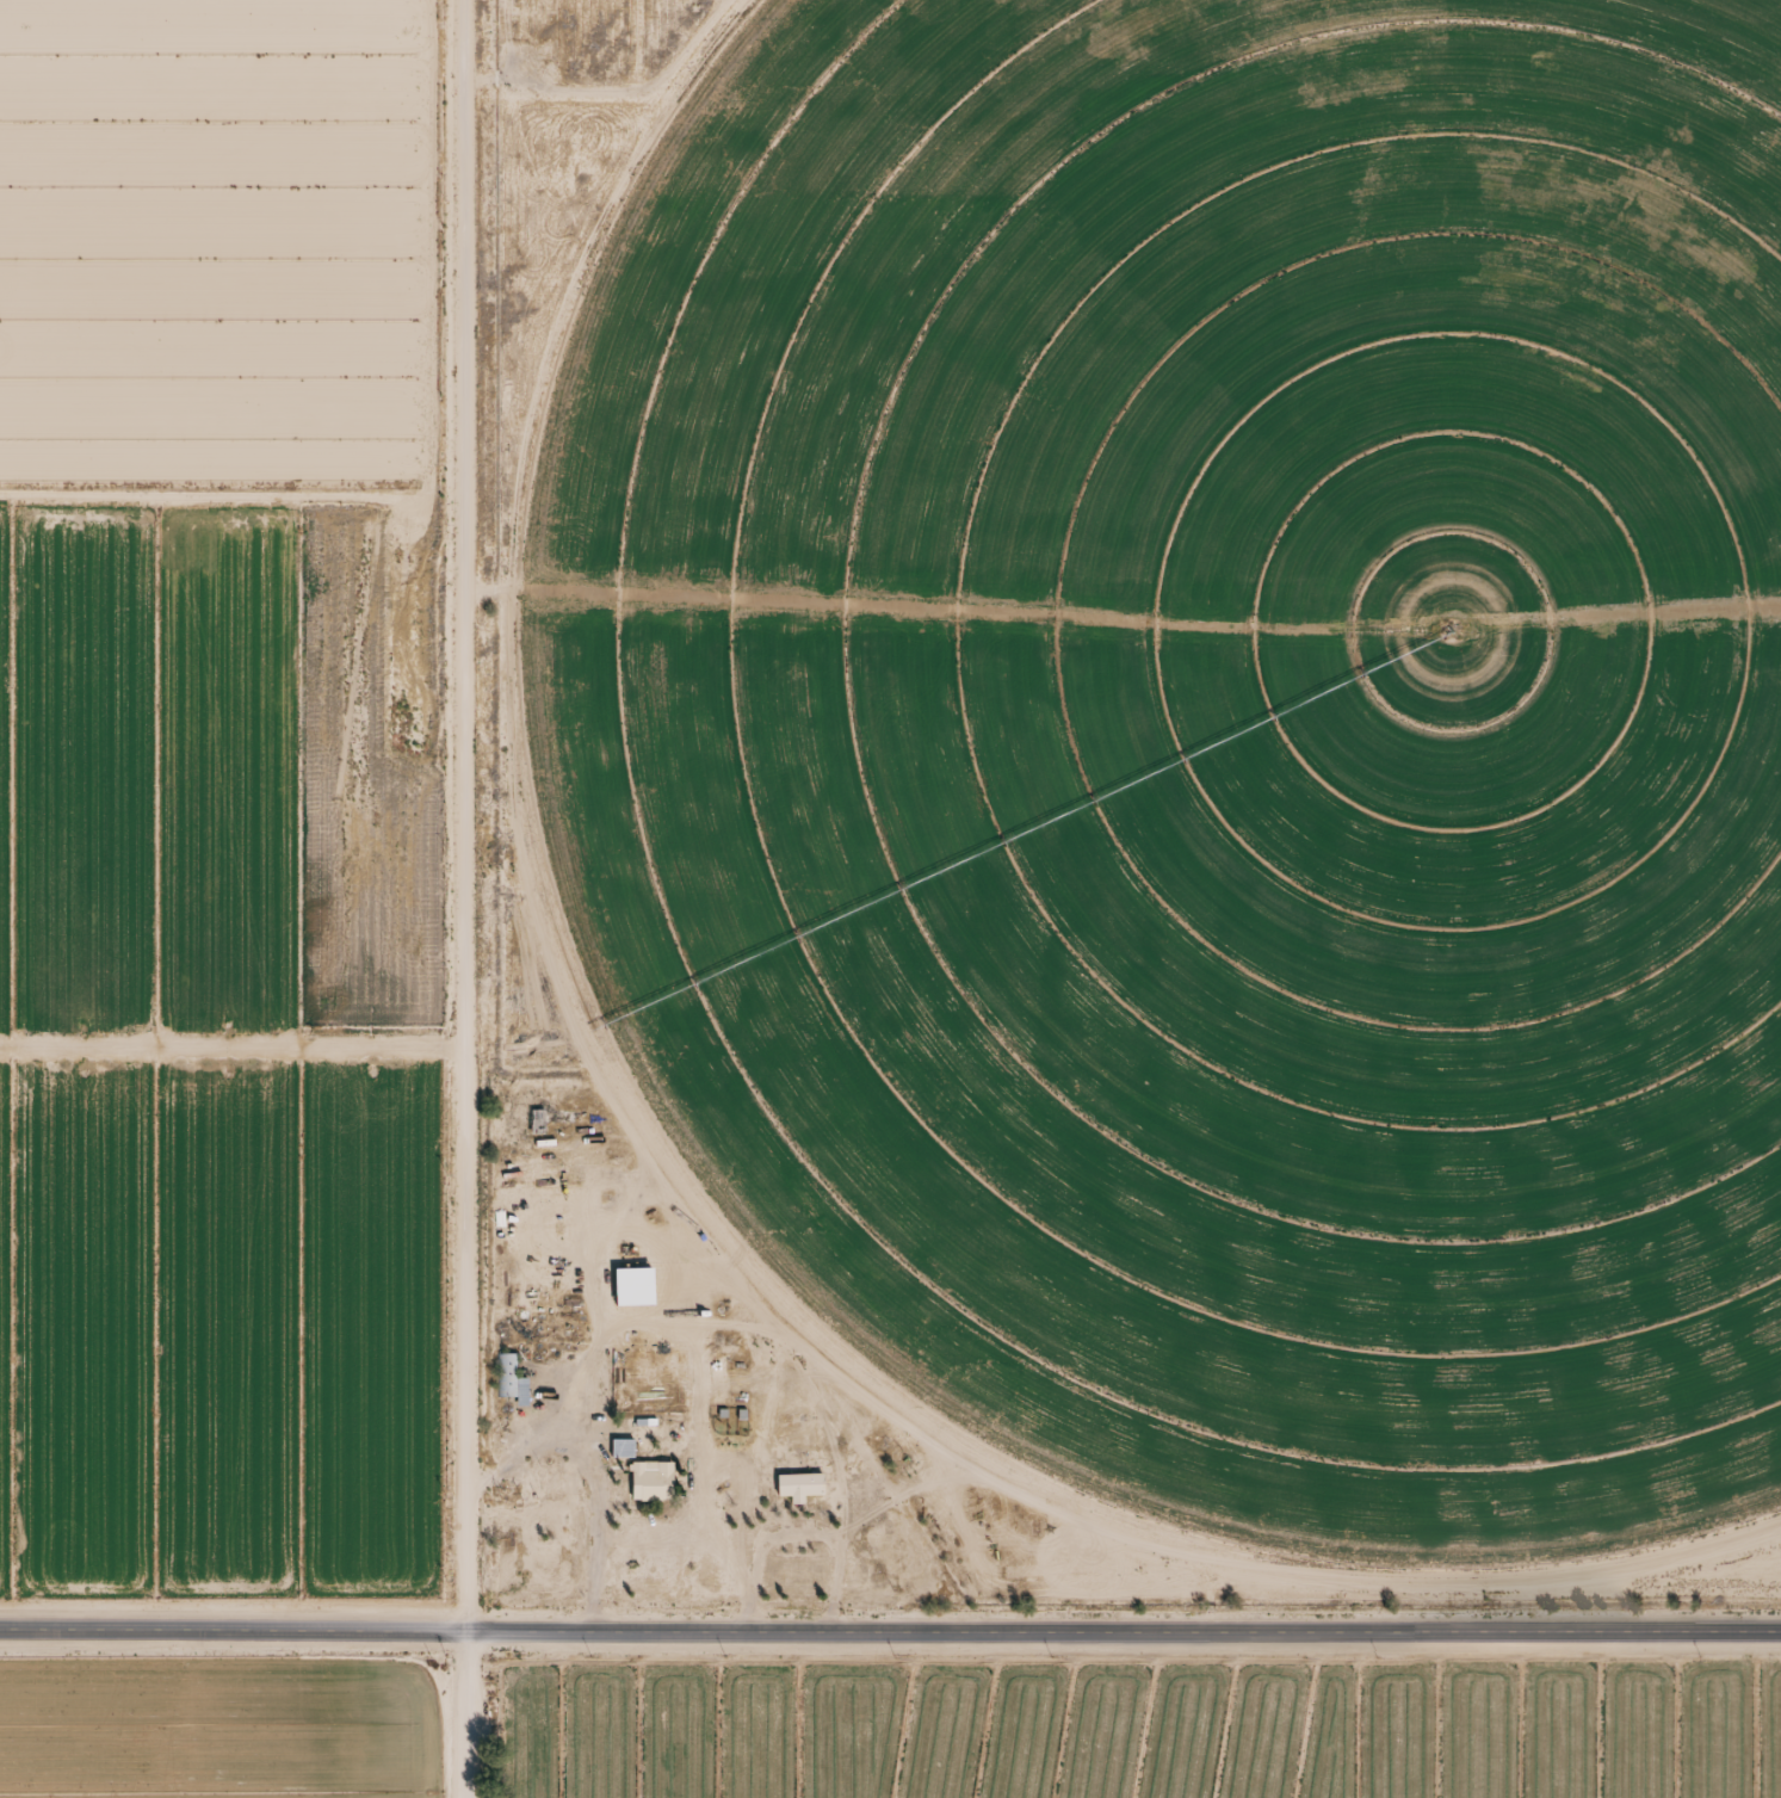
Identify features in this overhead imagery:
road: (229, 246)
crop: (1207, 739)
crop: (206, 779)
road: (459, 898)
building: (536, 1122)
building: (509, 1378)
building: (622, 1447)
building: (651, 1481)
building: (799, 1485)
road: (890, 1630)

